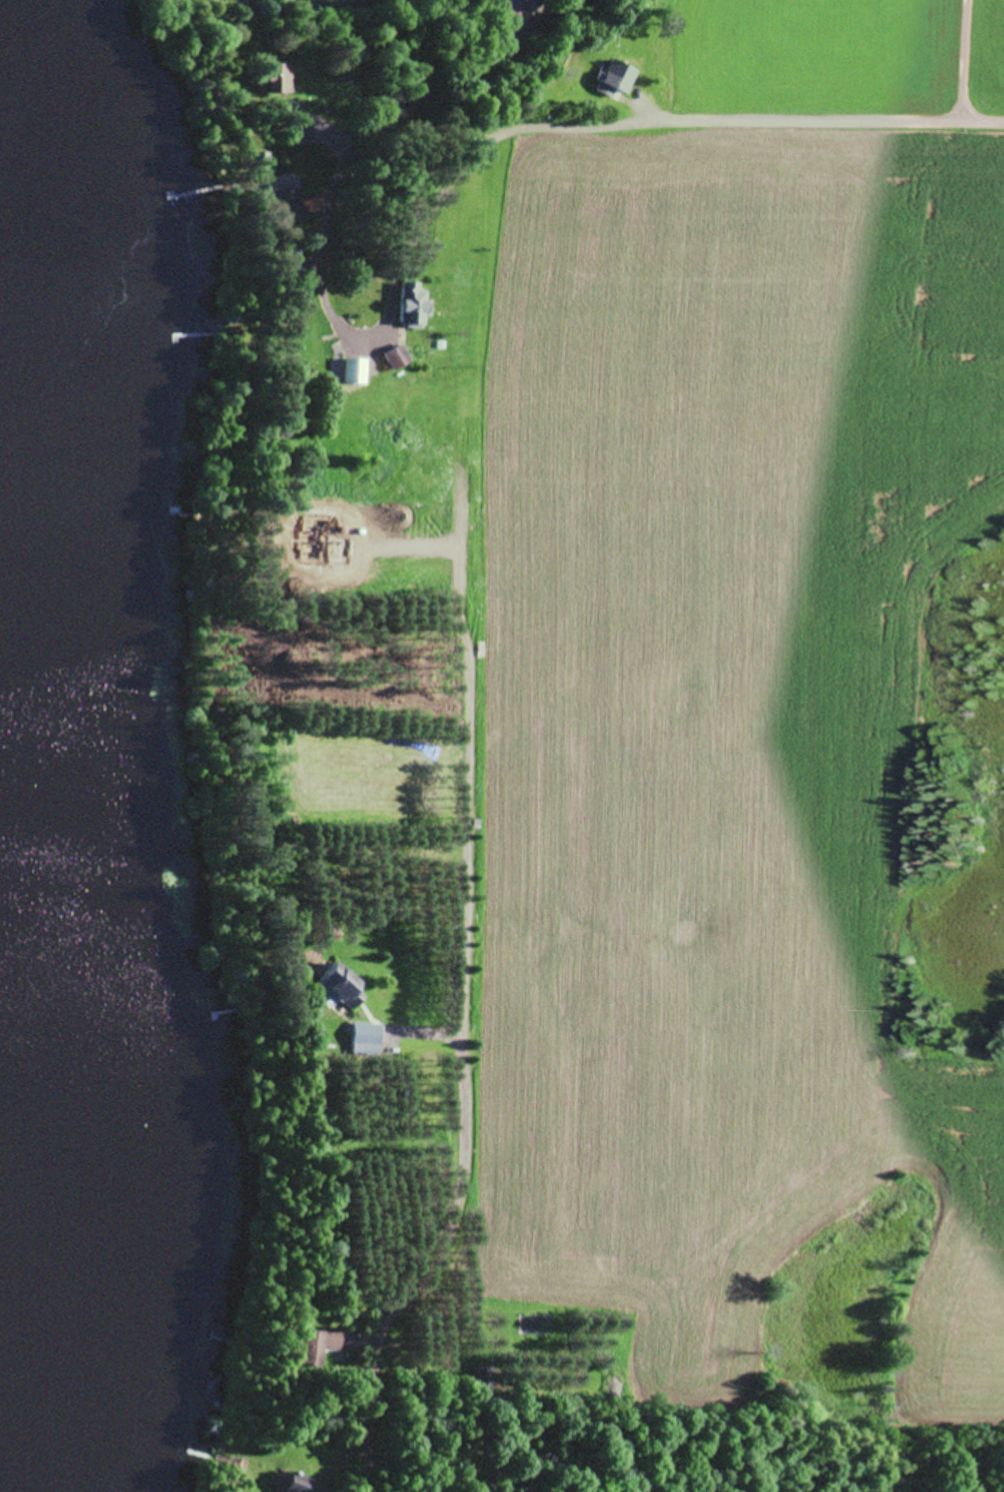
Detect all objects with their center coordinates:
building: (517, 7)
road: (965, 61)
building: (611, 78)
building: (276, 79)
road: (646, 120)
road: (383, 140)
building: (261, 161)
building: (288, 207)
building: (290, 259)
building: (408, 304)
building: (394, 356)
building: (353, 370)
building: (338, 985)
building: (364, 1037)
road: (456, 1044)
building: (314, 1344)
building: (482, 1376)
building: (294, 1483)

